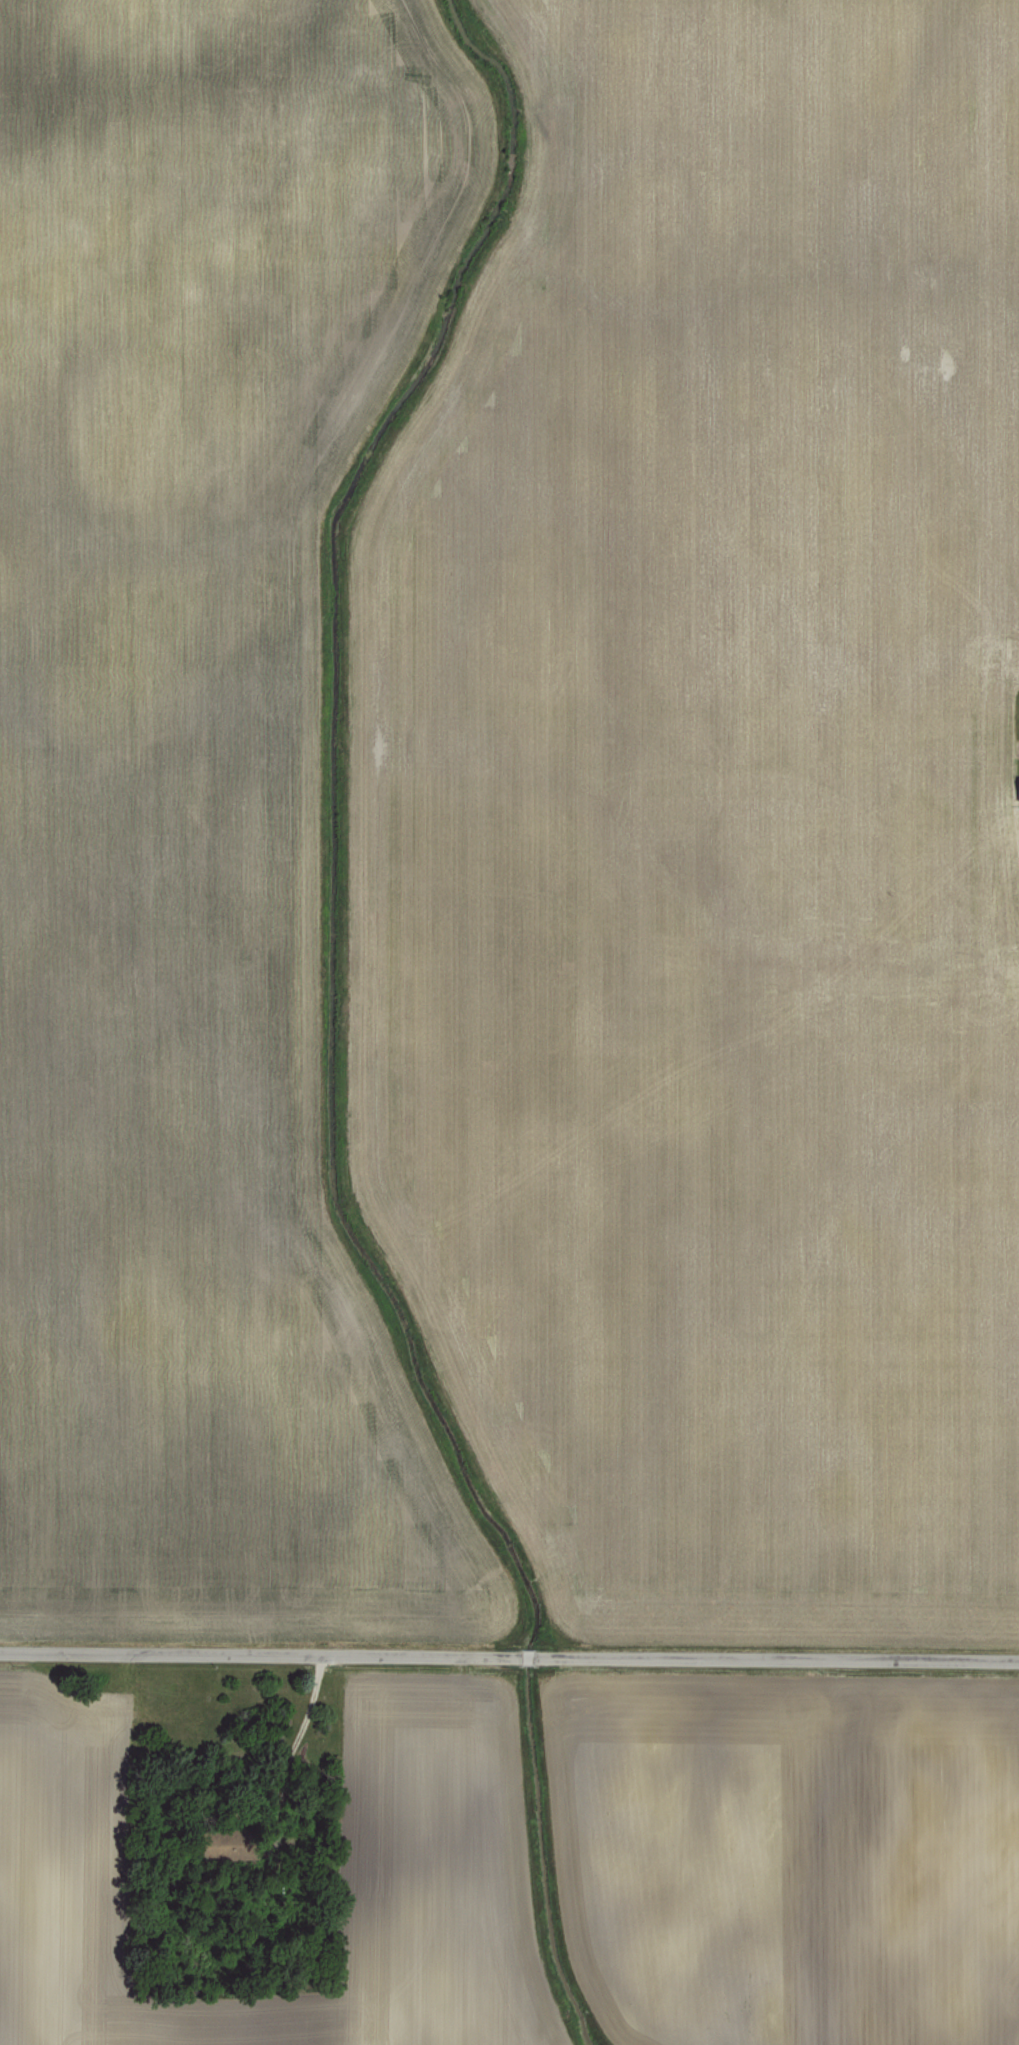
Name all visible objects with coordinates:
building: (1016, 790)
road: (509, 1655)
road: (299, 1727)

